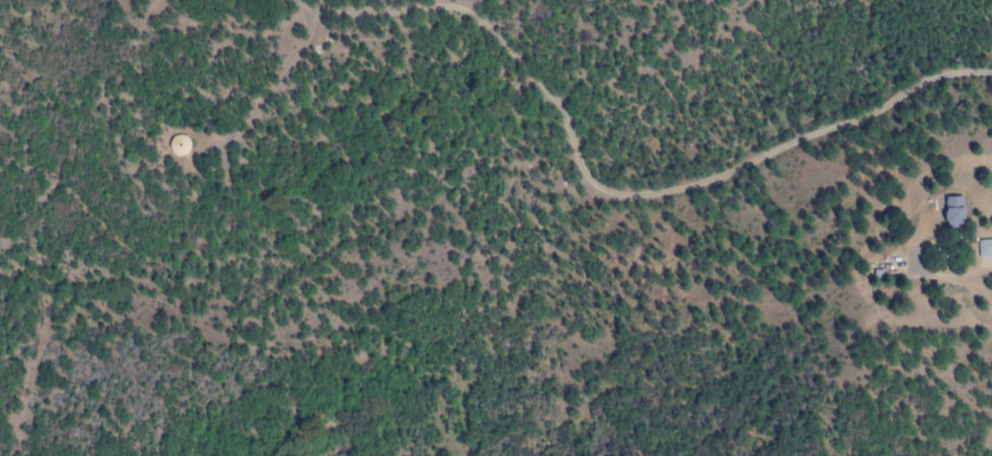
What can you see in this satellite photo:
building: (178, 145)
building: (953, 212)
building: (984, 248)

